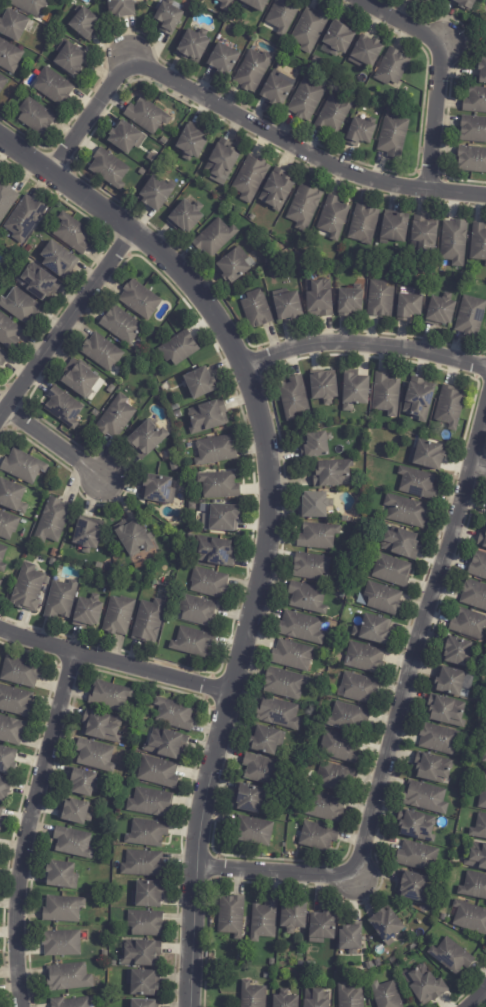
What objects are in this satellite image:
building: (416, 0)
building: (428, 0)
building: (226, 4)
building: (256, 4)
building: (466, 4)
building: (29, 6)
building: (121, 8)
building: (283, 16)
building: (168, 18)
road: (402, 21)
building: (84, 24)
building: (12, 26)
building: (310, 29)
building: (485, 34)
building: (339, 39)
building: (192, 46)
building: (366, 52)
building: (9, 57)
building: (70, 60)
building: (223, 60)
building: (317, 61)
building: (300, 66)
building: (392, 68)
building: (310, 70)
building: (253, 71)
building: (483, 72)
building: (361, 80)
building: (3, 83)
building: (53, 88)
building: (277, 90)
building: (306, 100)
building: (475, 101)
building: (389, 109)
road: (98, 112)
building: (333, 115)
road: (435, 115)
building: (146, 116)
building: (36, 117)
building: (473, 130)
building: (360, 133)
building: (393, 137)
building: (125, 138)
building: (191, 144)
road: (304, 146)
building: (472, 160)
building: (221, 163)
building: (109, 170)
building: (142, 173)
building: (250, 178)
building: (192, 188)
building: (276, 191)
building: (155, 195)
building: (6, 198)
building: (304, 207)
building: (24, 217)
building: (186, 217)
building: (252, 218)
building: (333, 218)
building: (364, 225)
building: (395, 230)
building: (72, 232)
building: (215, 239)
building: (424, 239)
building: (454, 243)
building: (478, 243)
building: (29, 249)
building: (58, 259)
building: (399, 267)
building: (231, 268)
building: (39, 281)
building: (139, 299)
building: (319, 299)
building: (380, 301)
building: (350, 303)
building: (20, 305)
building: (288, 308)
building: (408, 308)
building: (256, 310)
building: (440, 312)
road: (70, 317)
building: (471, 317)
building: (121, 324)
building: (9, 332)
road: (363, 342)
building: (179, 347)
building: (102, 352)
building: (148, 352)
building: (3, 356)
building: (79, 378)
building: (200, 381)
building: (324, 386)
building: (111, 388)
building: (354, 390)
building: (386, 393)
building: (293, 396)
building: (419, 399)
building: (450, 406)
building: (63, 407)
building: (175, 407)
building: (95, 413)
building: (177, 414)
building: (116, 416)
building: (209, 416)
building: (145, 439)
road: (51, 442)
building: (316, 443)
building: (215, 450)
building: (168, 454)
building: (427, 454)
building: (22, 466)
road: (478, 466)
building: (333, 473)
building: (417, 482)
building: (219, 485)
building: (157, 488)
building: (12, 496)
building: (315, 504)
building: (406, 510)
road: (268, 513)
building: (221, 517)
building: (345, 518)
building: (52, 520)
building: (7, 525)
building: (87, 532)
building: (317, 536)
building: (133, 537)
building: (190, 537)
building: (482, 537)
building: (401, 543)
building: (215, 550)
building: (54, 553)
building: (2, 558)
building: (98, 565)
building: (478, 565)
building: (311, 566)
building: (392, 570)
building: (0, 579)
building: (0, 582)
building: (208, 583)
building: (28, 588)
building: (474, 594)
building: (307, 597)
building: (61, 599)
building: (383, 599)
building: (197, 610)
building: (87, 612)
building: (118, 615)
building: (148, 621)
building: (470, 624)
building: (301, 628)
building: (373, 629)
road: (418, 640)
building: (192, 642)
building: (458, 651)
building: (292, 655)
building: (364, 658)
road: (113, 662)
building: (20, 672)
building: (453, 681)
building: (285, 684)
building: (359, 688)
building: (109, 696)
building: (480, 699)
building: (15, 702)
building: (447, 711)
building: (278, 713)
building: (174, 714)
building: (348, 717)
building: (101, 727)
building: (11, 730)
building: (439, 739)
building: (266, 740)
building: (166, 744)
building: (340, 747)
building: (94, 755)
building: (484, 758)
building: (7, 760)
building: (433, 768)
building: (262, 770)
building: (157, 772)
building: (335, 777)
building: (102, 778)
building: (485, 778)
building: (82, 782)
building: (4, 789)
building: (289, 797)
building: (249, 798)
building: (425, 798)
building: (483, 799)
building: (150, 803)
building: (325, 807)
building: (1, 812)
building: (73, 812)
building: (1, 823)
building: (416, 826)
road: (28, 827)
building: (479, 827)
building: (253, 831)
building: (147, 833)
building: (318, 836)
building: (72, 842)
building: (417, 856)
building: (477, 857)
building: (143, 864)
road: (277, 869)
building: (61, 876)
building: (474, 886)
building: (412, 887)
building: (147, 895)
building: (422, 908)
building: (62, 910)
building: (231, 916)
building: (293, 917)
building: (443, 917)
building: (470, 918)
building: (264, 921)
building: (145, 924)
building: (386, 926)
building: (322, 928)
building: (351, 938)
building: (61, 944)
building: (141, 954)
building: (451, 956)
building: (272, 962)
building: (301, 964)
building: (377, 964)
building: (369, 966)
building: (305, 972)
building: (266, 976)
building: (68, 978)
building: (143, 983)
building: (424, 985)
building: (252, 995)
building: (386, 995)
building: (350, 996)
road: (475, 997)
building: (315, 998)
building: (285, 1001)
building: (69, 1003)
building: (142, 1004)

